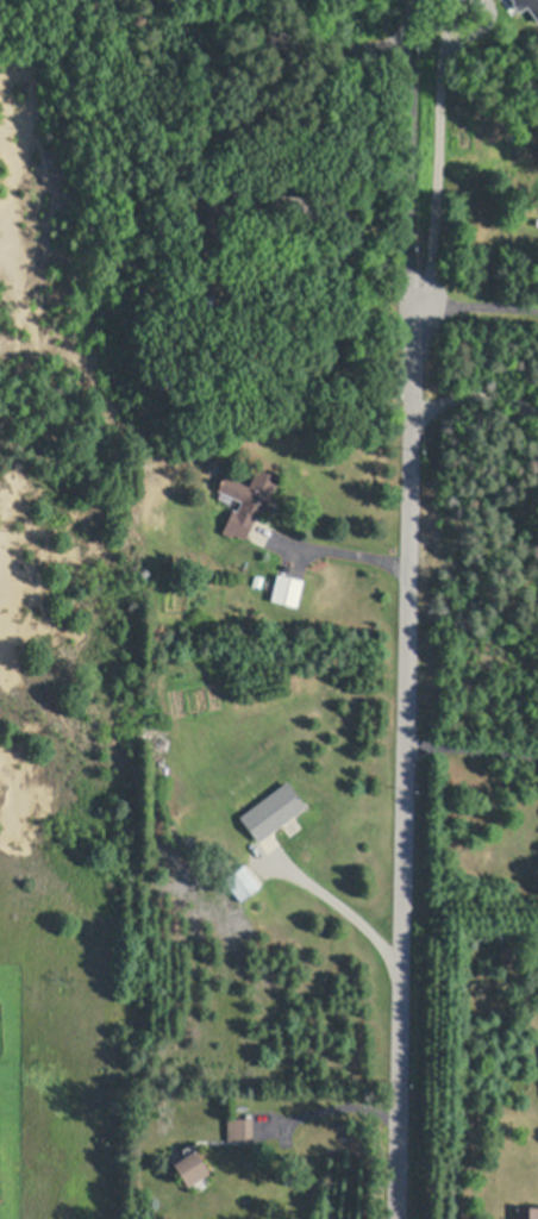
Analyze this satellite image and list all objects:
building: (526, 7)
building: (213, 213)
building: (268, 213)
road: (477, 308)
building: (154, 361)
building: (255, 421)
building: (213, 468)
building: (249, 499)
road: (333, 552)
building: (258, 580)
building: (288, 588)
building: (155, 734)
road: (405, 759)
building: (273, 809)
building: (240, 882)
road: (346, 909)
building: (509, 956)
building: (240, 1130)
building: (192, 1168)
building: (527, 1214)

